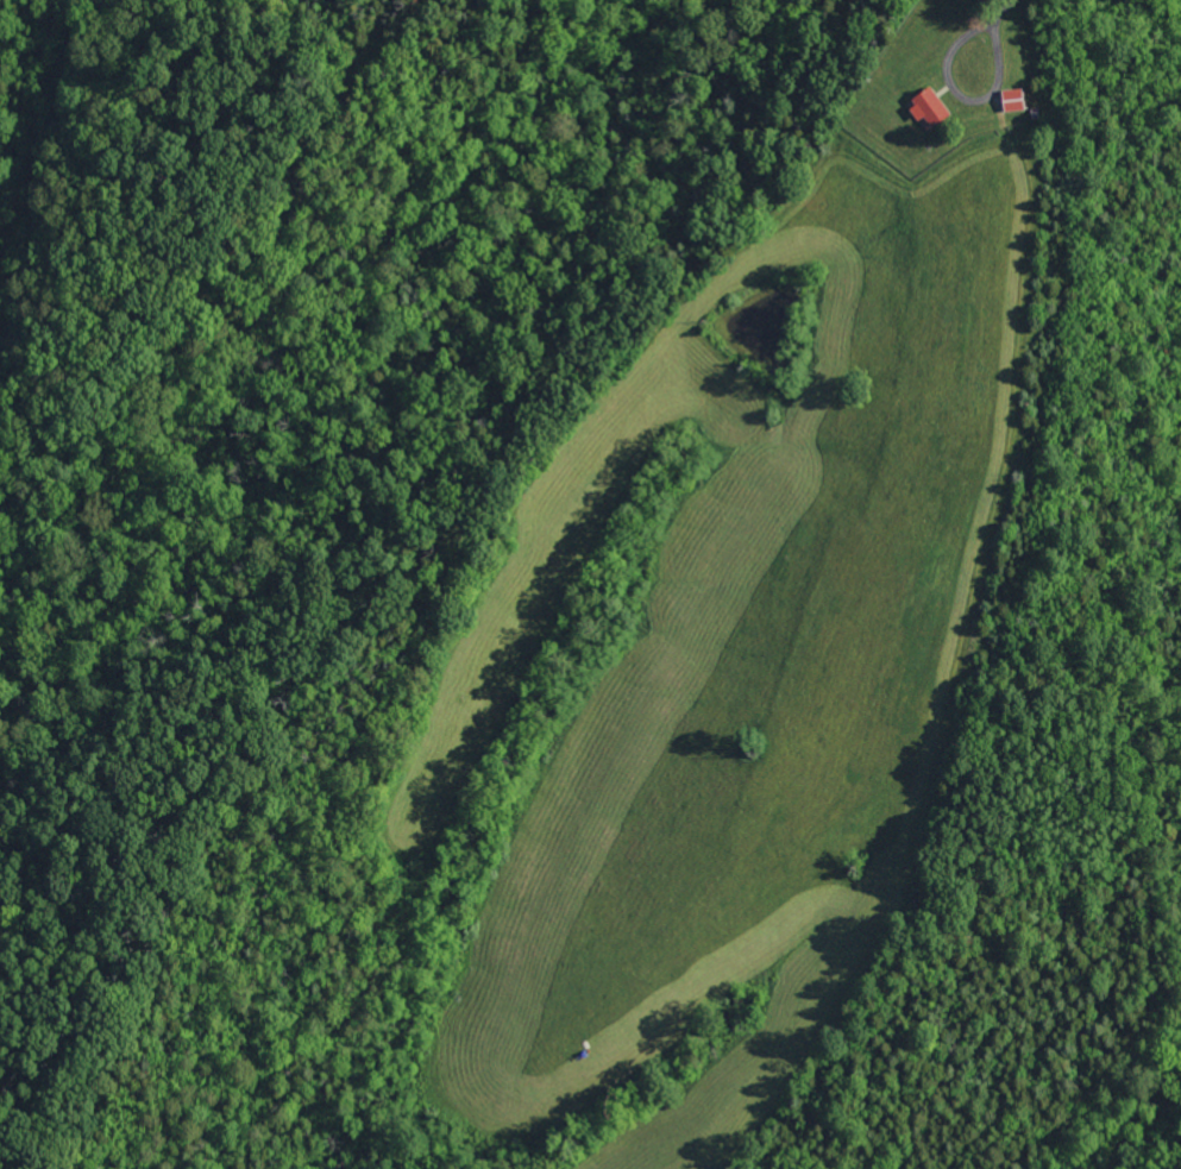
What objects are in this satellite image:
building: (925, 106)

